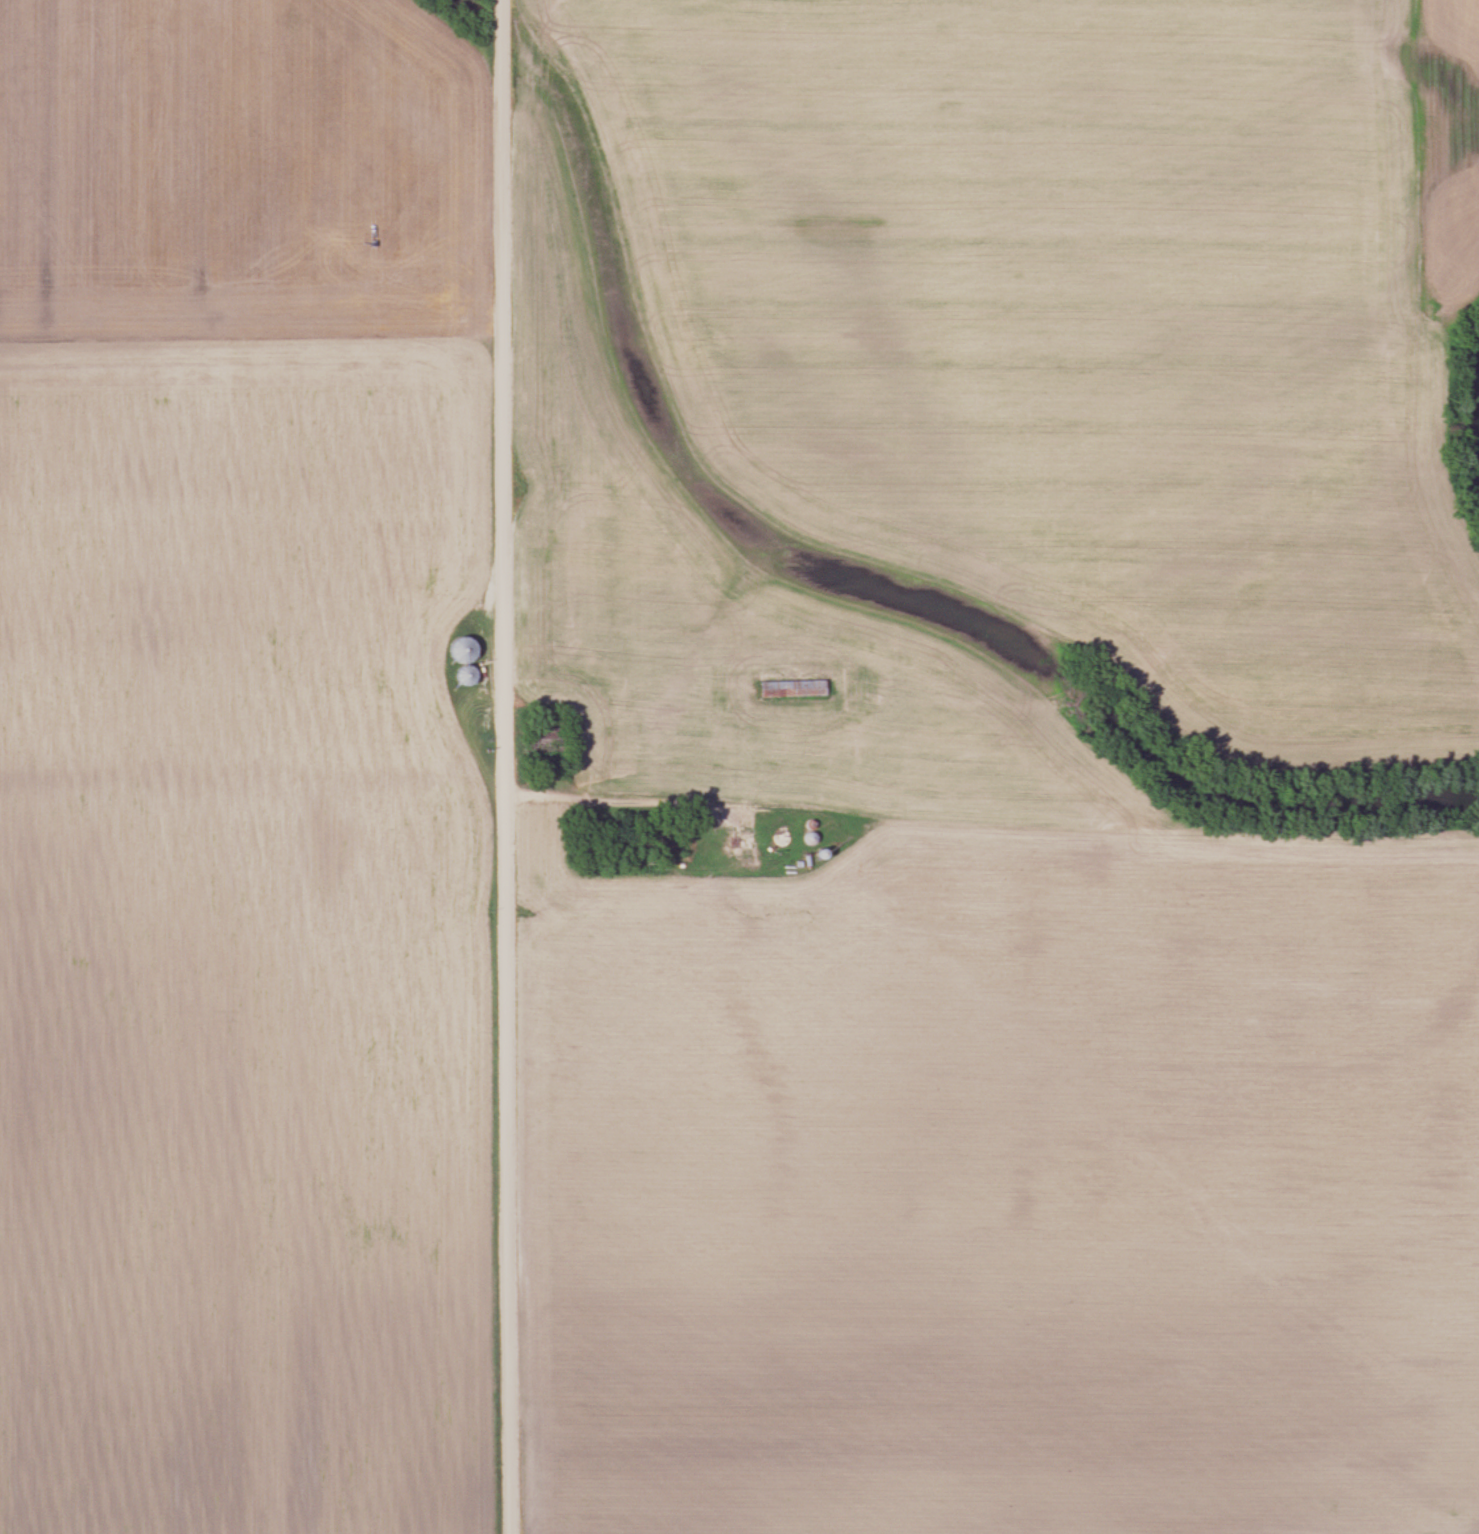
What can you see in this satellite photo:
building: (454, 650)
building: (786, 689)
road: (506, 767)
building: (778, 837)

